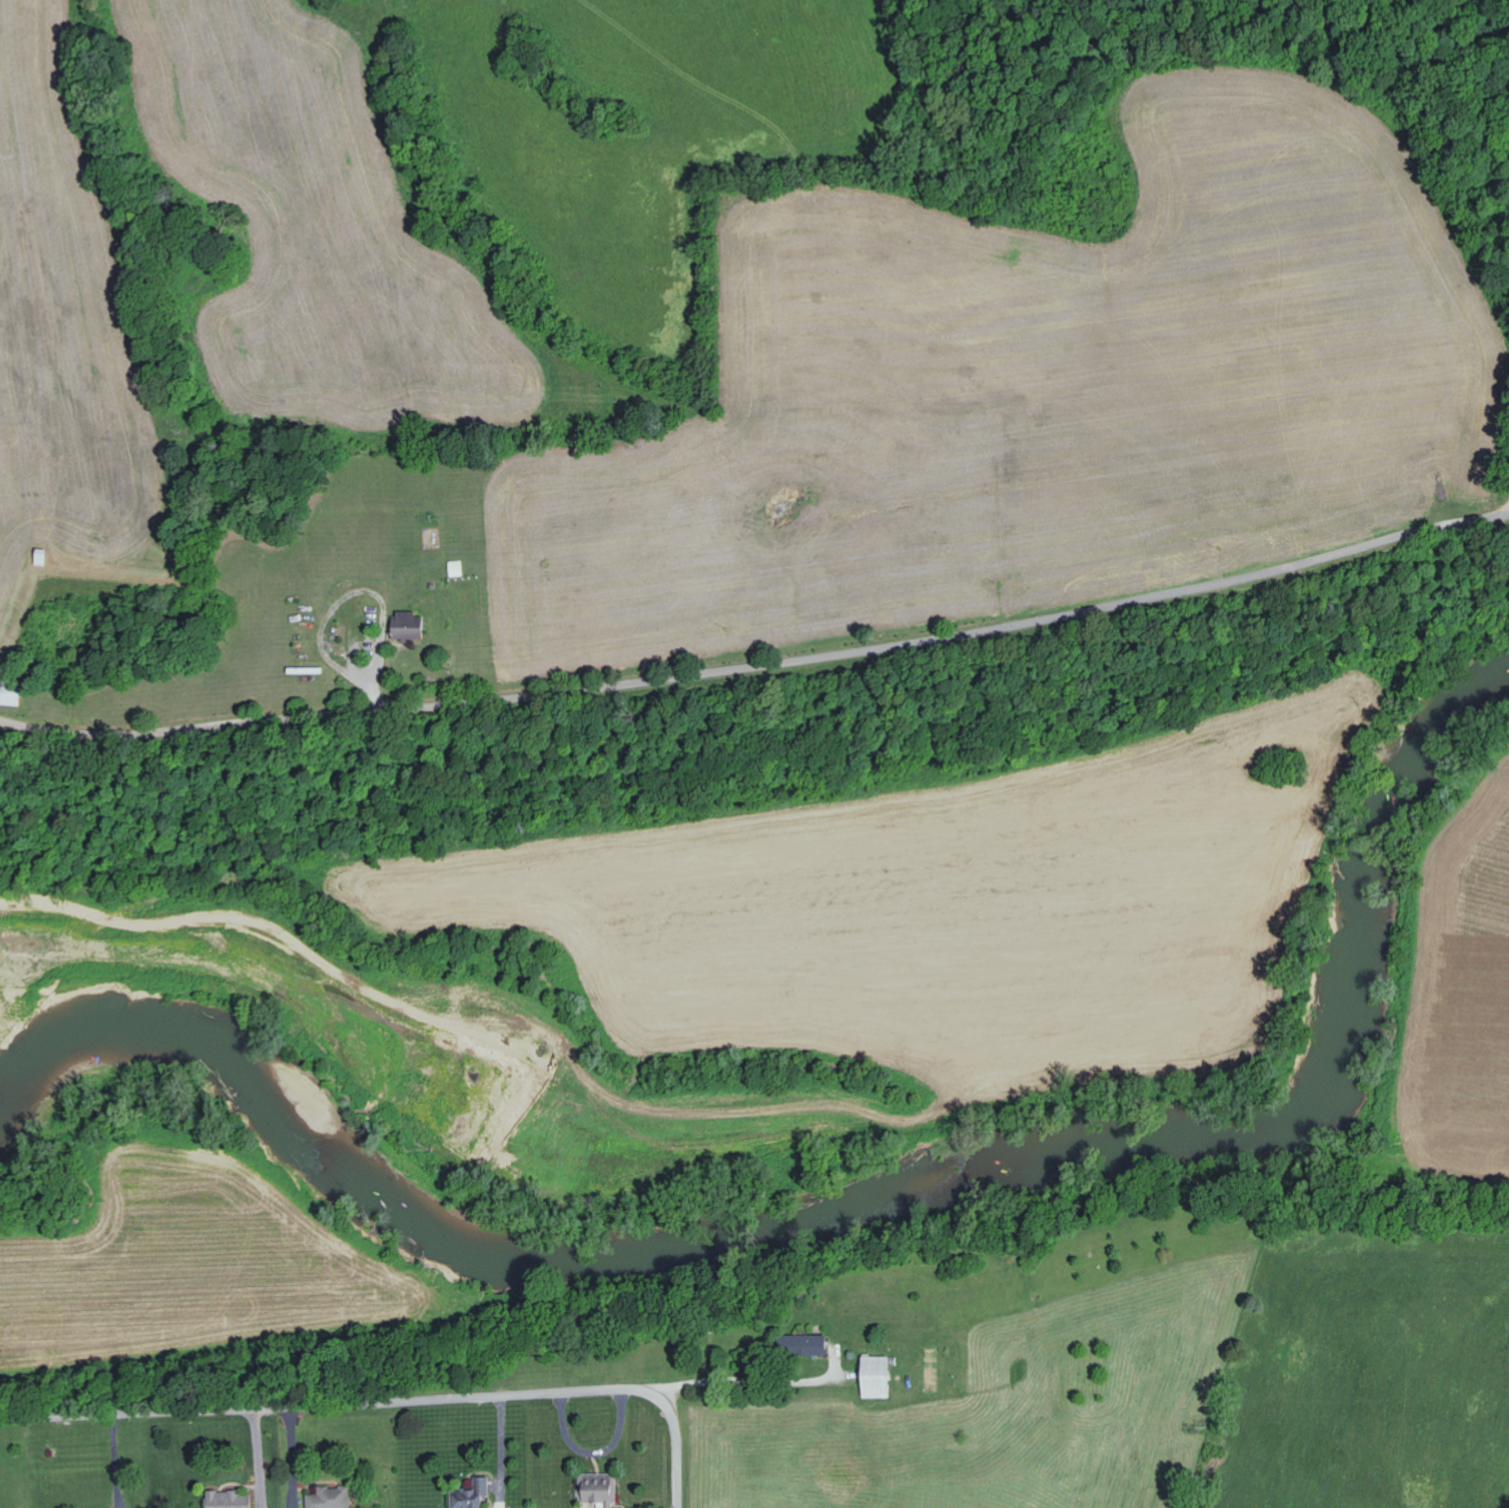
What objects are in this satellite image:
building: (45, 556)
building: (457, 567)
building: (412, 625)
road: (760, 668)
building: (14, 692)
river: (858, 1195)
building: (809, 1344)
building: (881, 1376)
road: (727, 1385)
road: (386, 1405)
road: (501, 1449)
building: (601, 1489)
building: (471, 1496)
building: (333, 1497)
building: (231, 1499)

